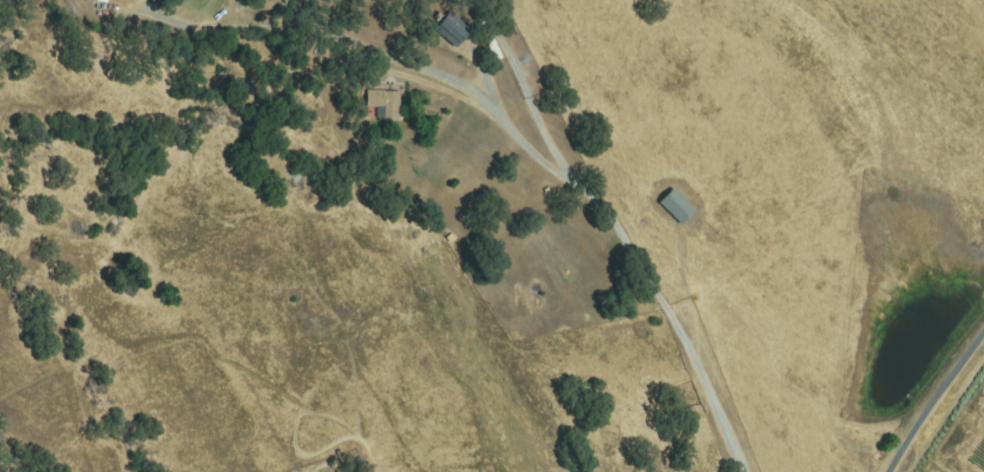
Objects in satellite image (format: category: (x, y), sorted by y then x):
building: (453, 29)
building: (494, 48)
road: (327, 54)
building: (386, 104)
road: (590, 197)
building: (677, 207)

